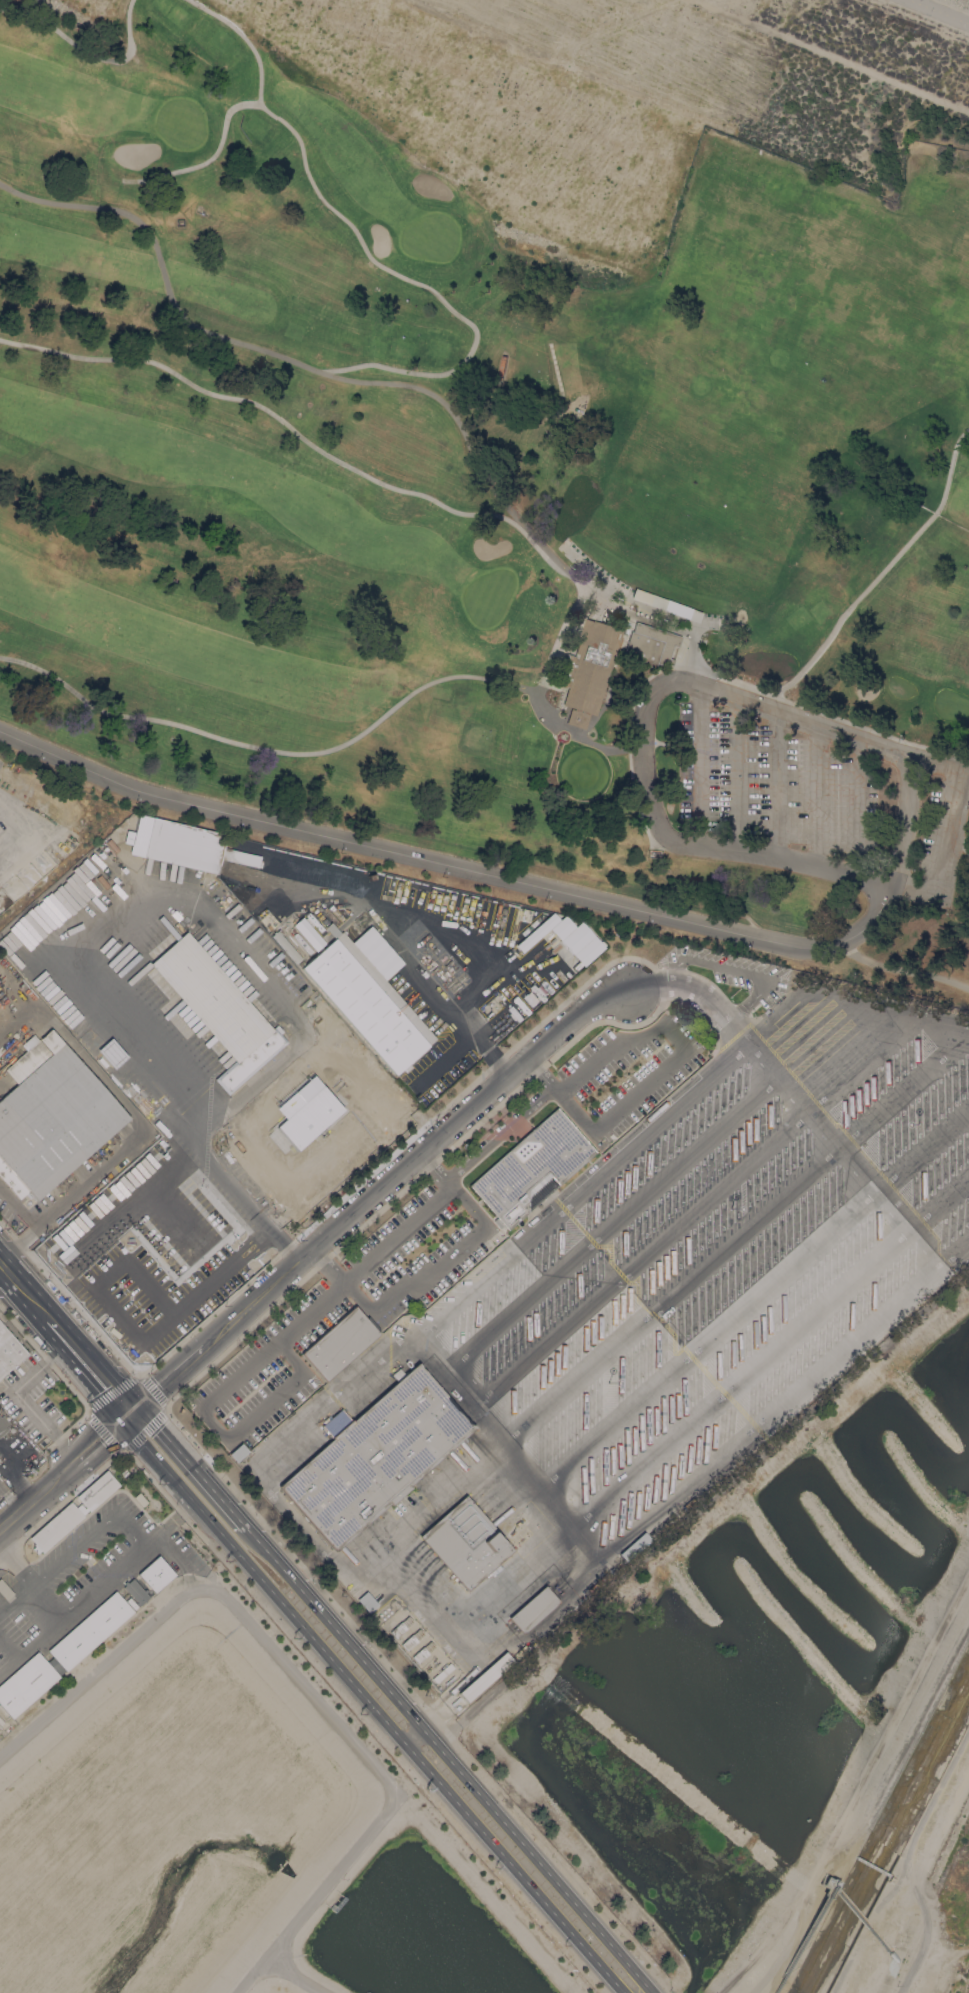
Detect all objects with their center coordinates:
road: (939, 11)
dam: (89, 12)
park: (89, 12)
park: (173, 14)
road: (243, 39)
park: (214, 41)
road: (86, 52)
road: (830, 56)
park: (631, 98)
dam: (521, 114)
park: (180, 123)
dam: (933, 194)
road: (354, 233)
park: (429, 237)
park: (407, 345)
park: (555, 369)
road: (380, 383)
building: (554, 429)
road: (295, 432)
park: (506, 448)
park: (594, 570)
park: (487, 596)
road: (852, 603)
park: (811, 604)
building: (664, 605)
park: (718, 622)
park: (799, 624)
building: (624, 637)
building: (649, 645)
park: (773, 656)
building: (587, 670)
road: (659, 685)
park: (899, 688)
park: (438, 694)
park: (952, 701)
road: (577, 726)
road: (869, 729)
road: (266, 749)
park: (530, 749)
parking lot: (684, 761)
road: (699, 765)
parking lot: (718, 771)
park: (583, 772)
road: (738, 775)
parking lot: (757, 783)
road: (777, 784)
parking lot: (797, 791)
road: (816, 795)
parking lot: (837, 798)
road: (856, 807)
parking lot: (870, 814)
road: (943, 824)
road: (963, 845)
building: (184, 846)
building: (240, 857)
road: (451, 865)
road: (109, 926)
building: (306, 933)
building: (575, 939)
building: (286, 946)
building: (218, 959)
road: (901, 968)
road: (694, 995)
building: (367, 1003)
building: (218, 1009)
road: (456, 1026)
road: (668, 1065)
building: (52, 1116)
road: (138, 1122)
road: (294, 1124)
road: (842, 1151)
road: (337, 1159)
building: (531, 1168)
road: (652, 1187)
road: (373, 1197)
road: (18, 1205)
road: (693, 1210)
building: (99, 1214)
building: (78, 1224)
parking lot: (439, 1225)
road: (734, 1237)
parking lot: (722, 1260)
road: (427, 1270)
building: (118, 1286)
road: (23, 1289)
road: (753, 1300)
road: (303, 1311)
building: (4, 1333)
building: (156, 1338)
building: (339, 1342)
road: (767, 1351)
building: (10, 1354)
road: (87, 1365)
road: (450, 1377)
road: (344, 1385)
traffic signals: (127, 1413)
building: (5, 1431)
road: (99, 1437)
building: (235, 1452)
building: (374, 1456)
road: (189, 1466)
building: (97, 1490)
road: (36, 1494)
road: (10, 1499)
building: (81, 1509)
building: (55, 1527)
building: (465, 1543)
road: (145, 1544)
road: (249, 1566)
building: (155, 1574)
road: (33, 1580)
building: (4, 1590)
building: (134, 1593)
building: (532, 1609)
road: (318, 1610)
building: (400, 1627)
building: (411, 1639)
building: (520, 1651)
building: (422, 1652)
building: (60, 1655)
building: (442, 1672)
building: (485, 1676)
road: (301, 1679)
road: (407, 1711)
road: (392, 1729)
road: (415, 1738)
road: (860, 1785)
road: (536, 1858)
road: (872, 1867)
road: (900, 1867)
road: (518, 1873)
road: (293, 1975)
quarry: (968, 1992)

